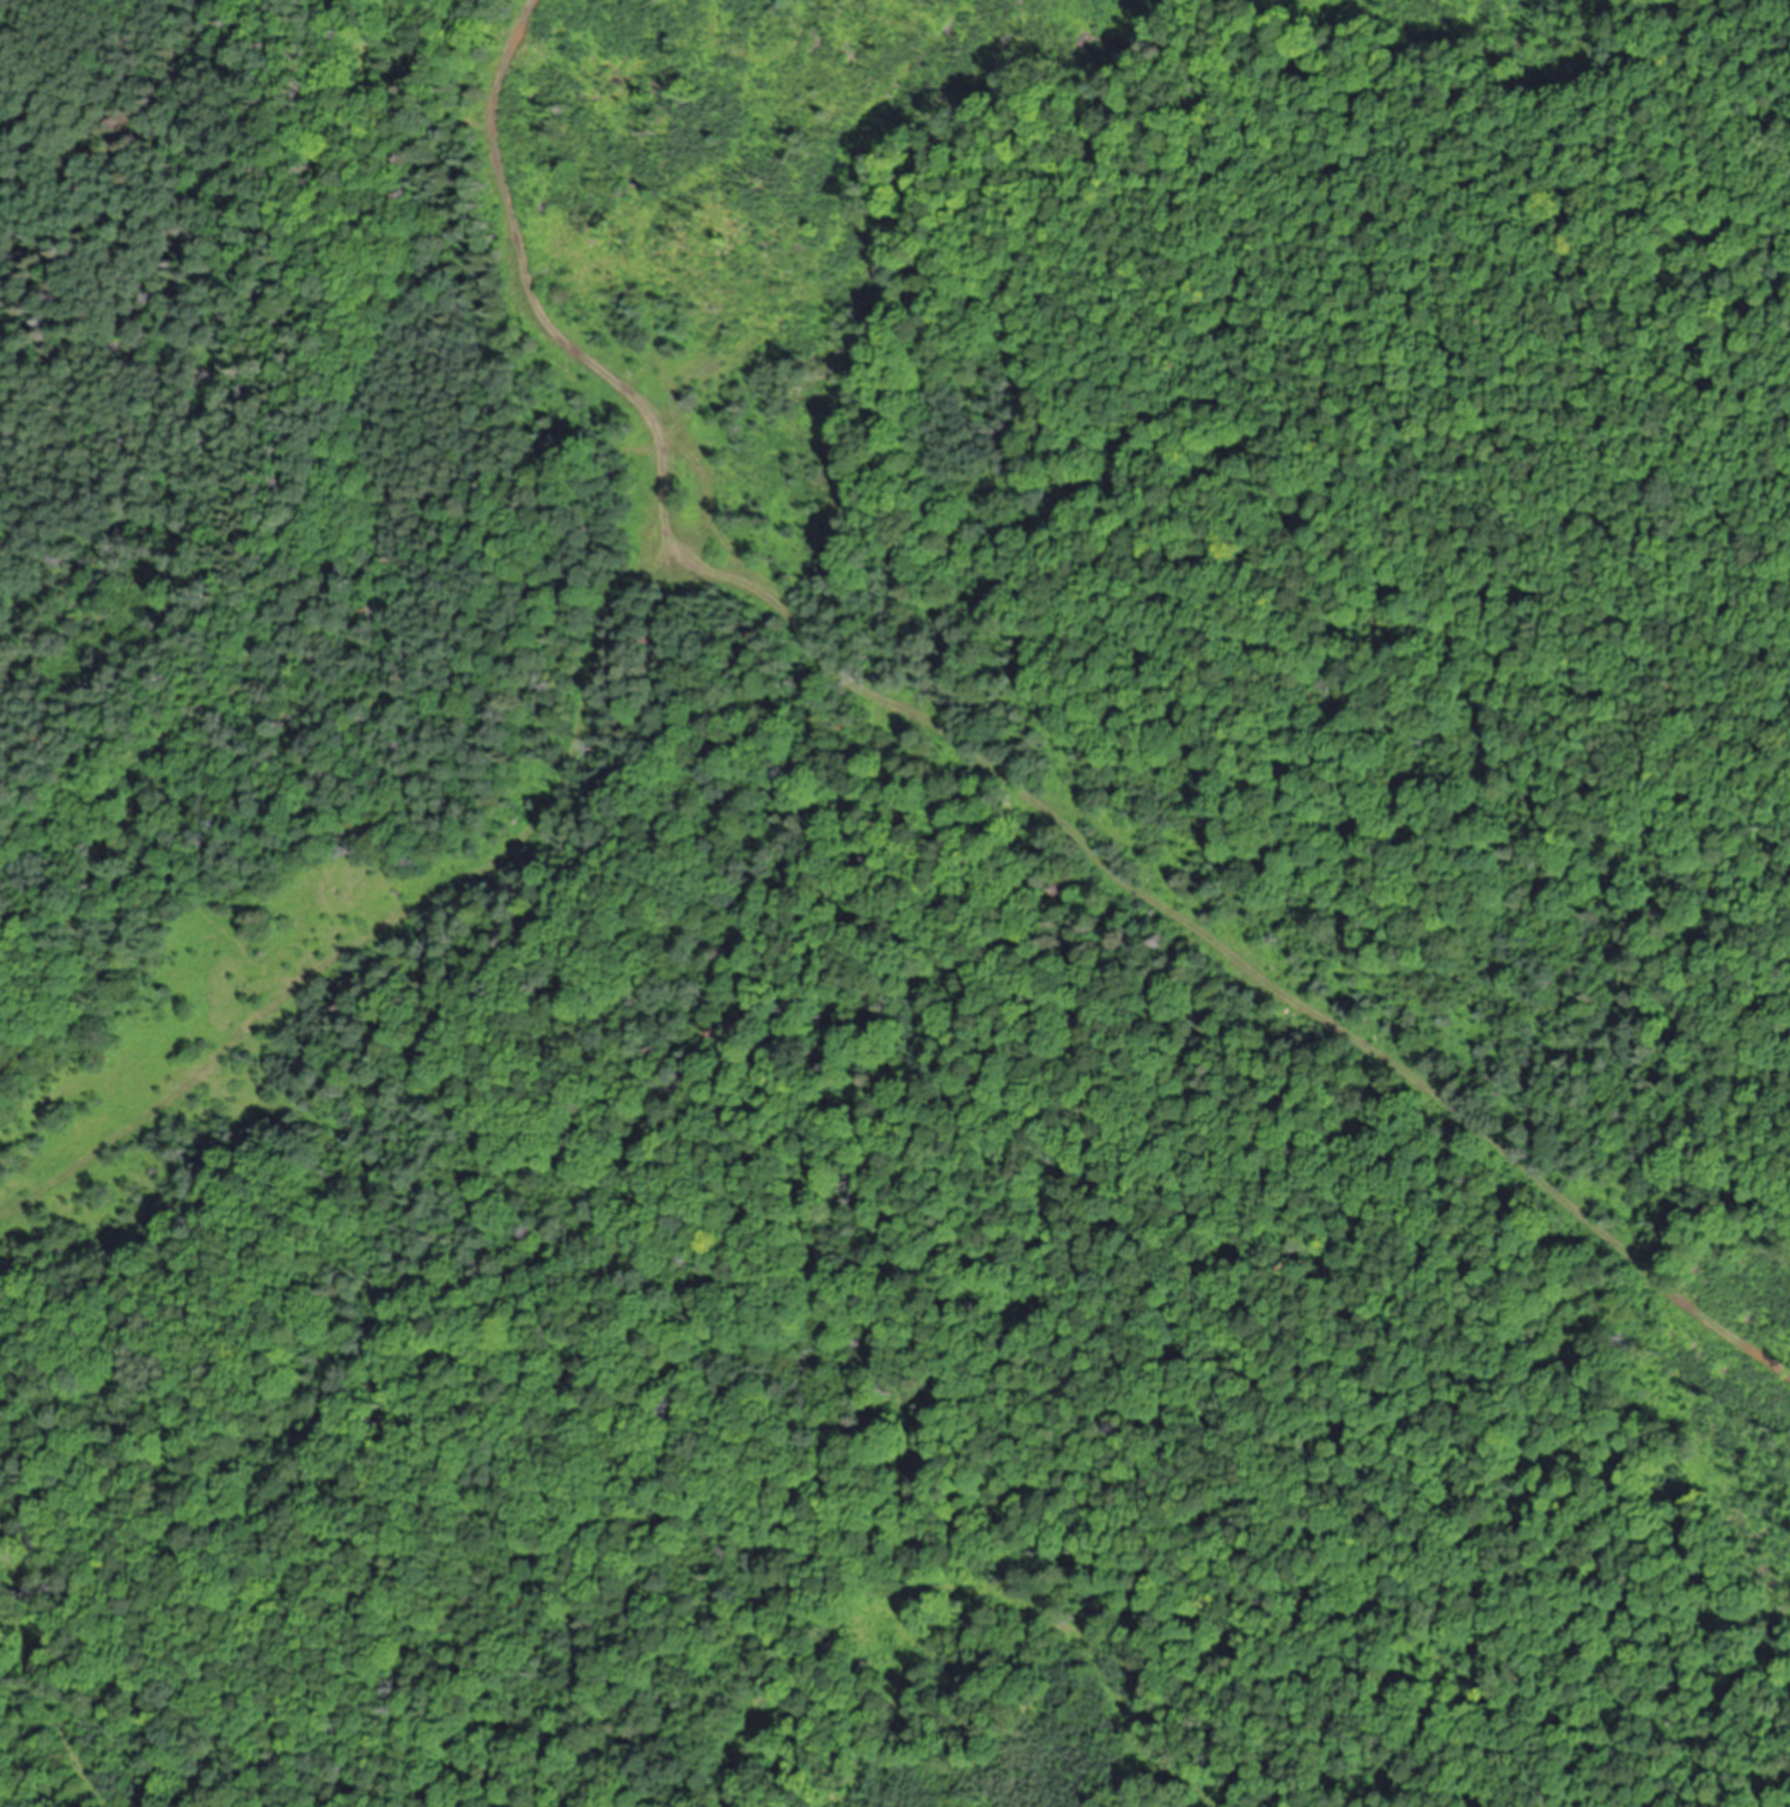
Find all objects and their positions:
road: (994, 765)
road: (389, 918)
road: (53, 1671)

